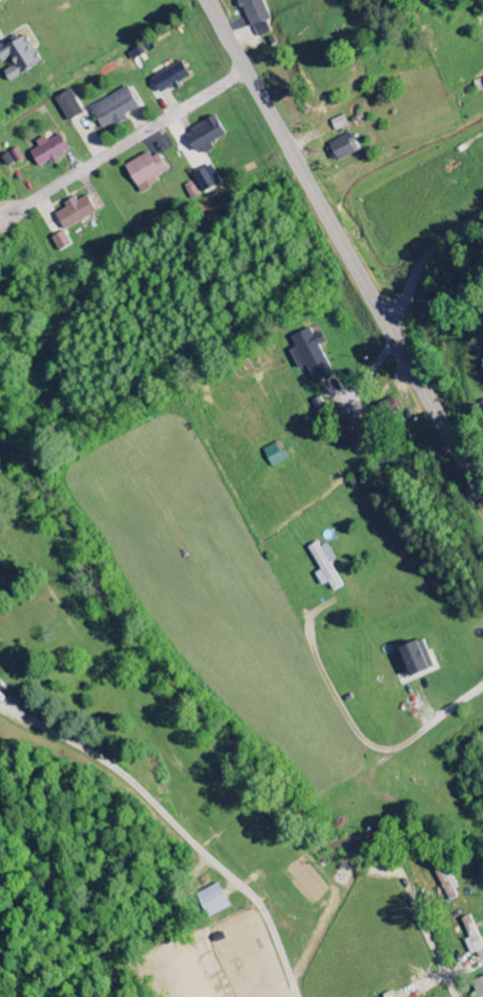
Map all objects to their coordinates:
building: (253, 12)
building: (261, 30)
park: (339, 45)
building: (17, 58)
building: (67, 105)
building: (113, 108)
building: (338, 124)
building: (202, 136)
road: (122, 144)
building: (342, 147)
building: (47, 151)
building: (7, 158)
building: (143, 171)
building: (205, 178)
building: (73, 211)
building: (59, 240)
road: (344, 246)
road: (425, 259)
building: (309, 355)
building: (482, 368)
building: (347, 433)
building: (273, 455)
building: (322, 566)
building: (412, 657)
road: (436, 721)
building: (213, 900)
road: (433, 948)
road: (278, 952)
building: (478, 987)

